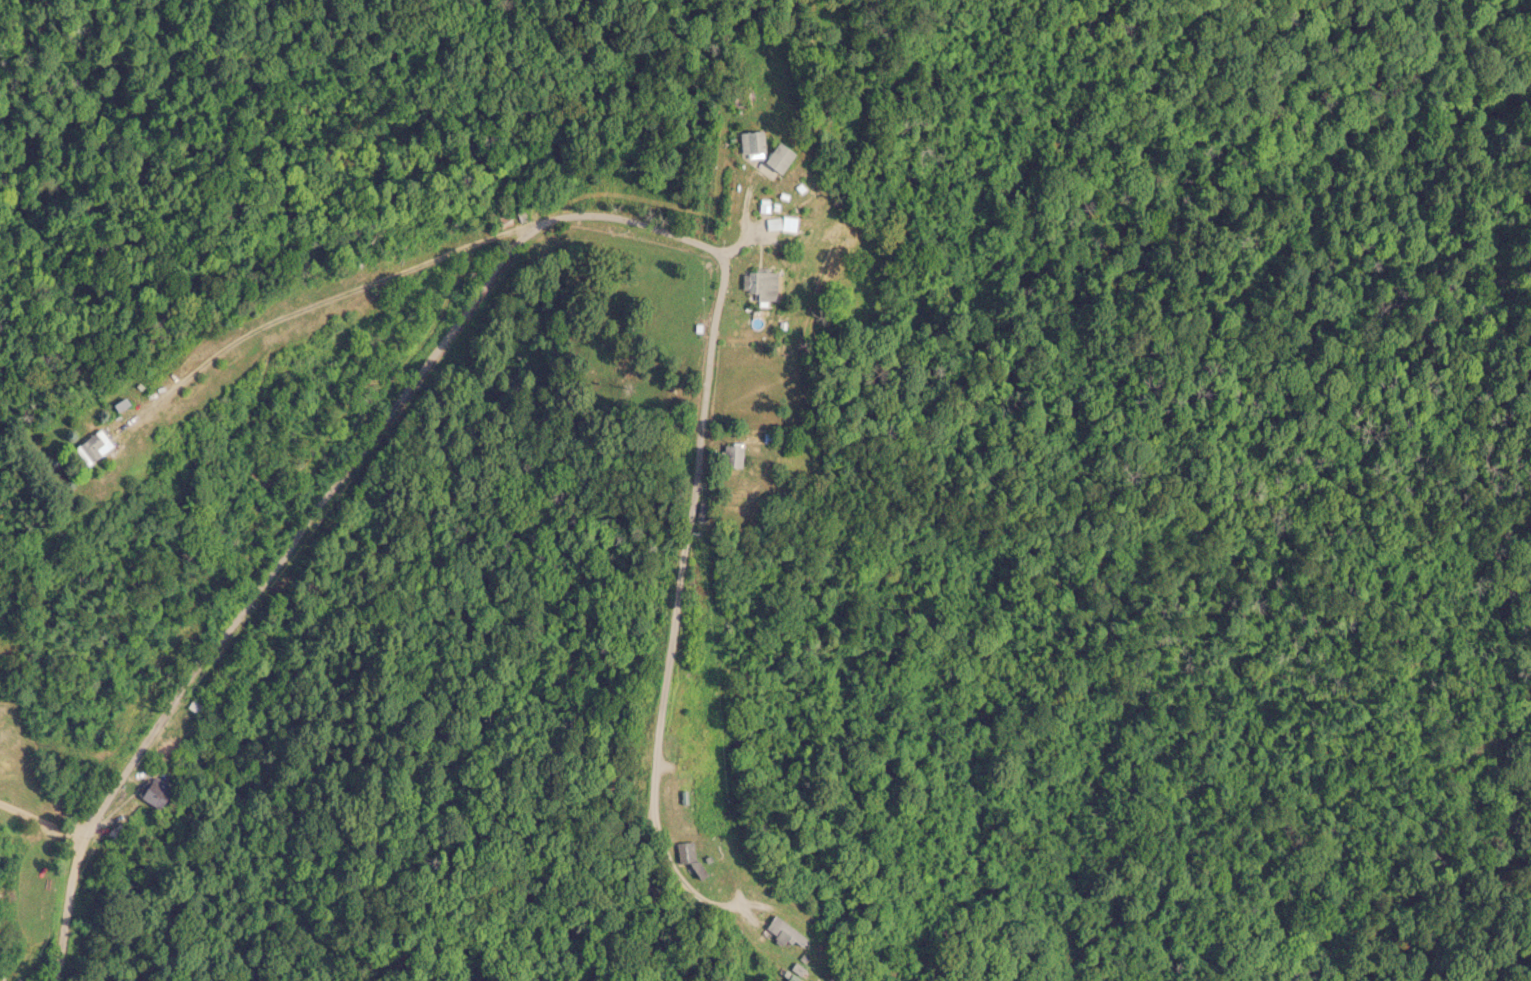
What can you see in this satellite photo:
building: (739, 99)
building: (750, 142)
building: (777, 158)
building: (497, 224)
road: (538, 239)
building: (759, 284)
building: (90, 446)
building: (732, 455)
building: (683, 790)
building: (154, 791)
building: (118, 832)
building: (684, 851)
building: (778, 932)

